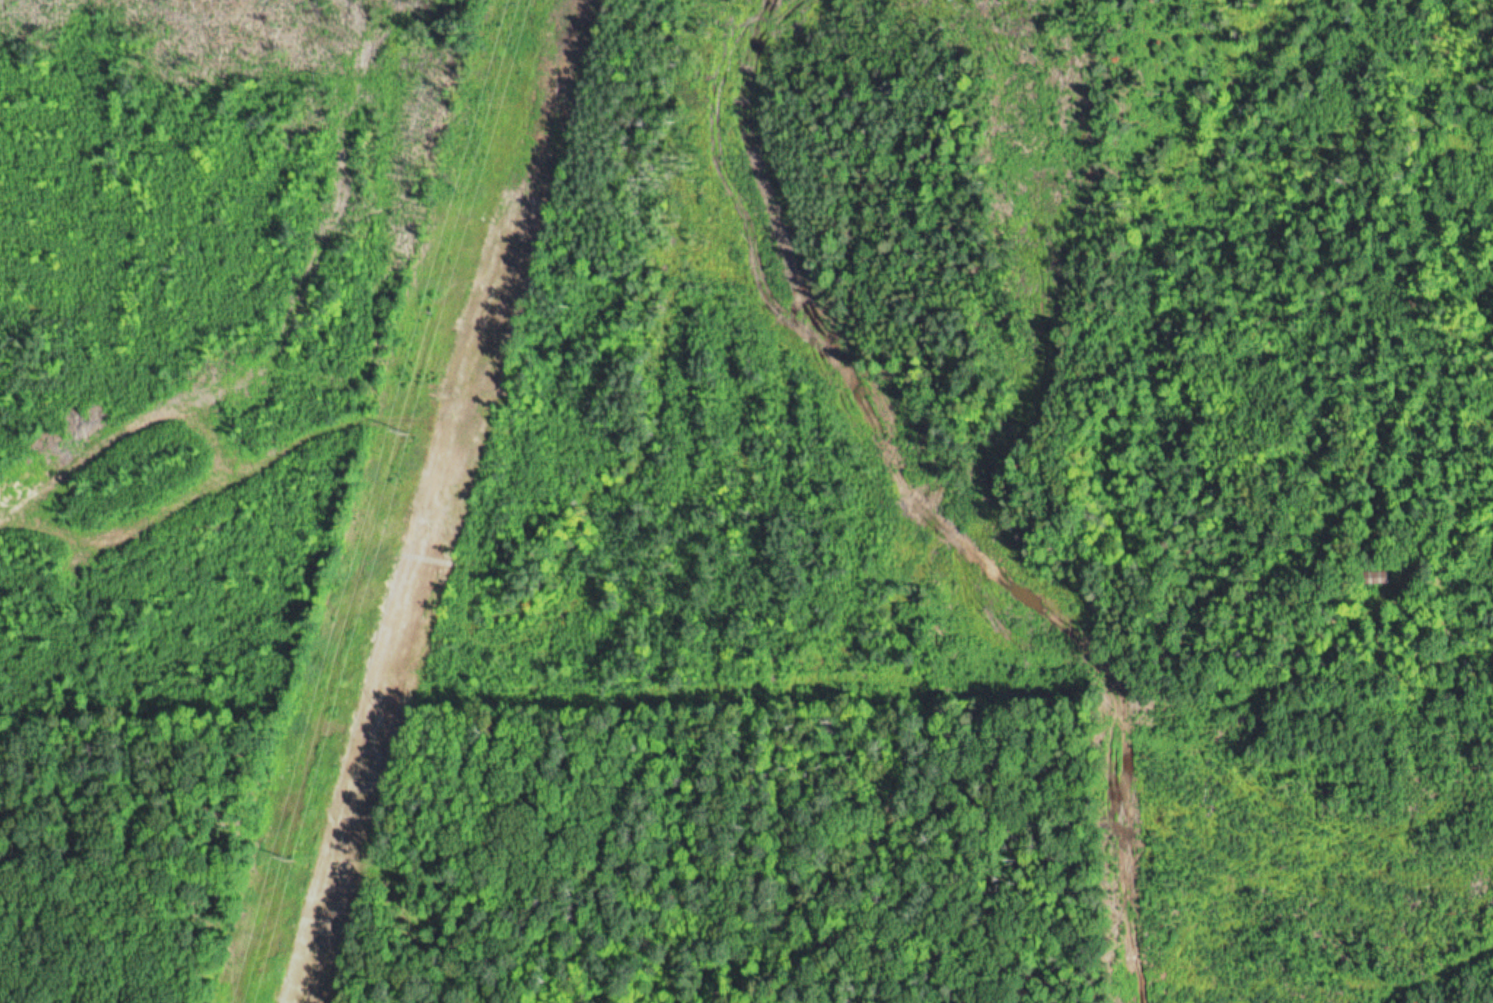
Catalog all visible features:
road: (1056, 770)

